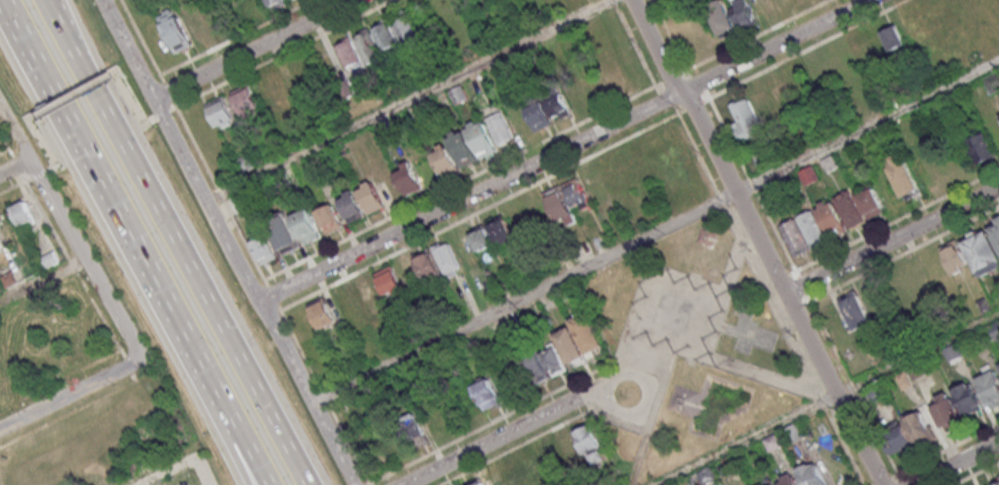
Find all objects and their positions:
building: (291, 0)
building: (499, 0)
building: (276, 3)
building: (743, 12)
road: (49, 14)
road: (53, 14)
building: (721, 17)
building: (405, 28)
building: (184, 30)
building: (386, 36)
building: (894, 38)
road: (744, 43)
building: (368, 45)
road: (252, 49)
road: (810, 49)
building: (349, 52)
building: (613, 75)
building: (992, 81)
building: (779, 91)
road: (72, 92)
road: (666, 97)
building: (246, 99)
road: (404, 99)
building: (761, 100)
building: (558, 105)
building: (742, 110)
building: (222, 112)
building: (539, 115)
road: (150, 117)
building: (499, 127)
building: (481, 138)
building: (462, 147)
building: (981, 148)
road: (4, 149)
road: (564, 151)
road: (12, 155)
building: (446, 161)
road: (14, 166)
road: (44, 169)
building: (809, 174)
building: (903, 174)
building: (408, 178)
building: (577, 193)
building: (370, 196)
building: (871, 203)
building: (351, 205)
building: (560, 205)
building: (850, 209)
building: (22, 211)
road: (115, 214)
building: (330, 218)
building: (832, 219)
building: (307, 225)
building: (813, 228)
road: (68, 229)
building: (501, 231)
road: (655, 231)
building: (284, 234)
building: (481, 237)
building: (796, 237)
road: (893, 238)
road: (761, 239)
building: (2, 244)
road: (225, 244)
building: (264, 249)
building: (982, 253)
building: (955, 256)
road: (180, 257)
building: (49, 259)
building: (447, 259)
road: (73, 268)
building: (428, 268)
road: (796, 269)
building: (390, 282)
building: (0, 288)
building: (369, 293)
road: (771, 295)
building: (856, 310)
building: (322, 312)
building: (994, 330)
building: (581, 339)
park: (691, 347)
building: (545, 363)
road: (60, 378)
building: (904, 379)
building: (990, 385)
road: (70, 393)
building: (486, 393)
road: (828, 398)
building: (967, 398)
building: (947, 409)
road: (67, 412)
building: (921, 427)
building: (417, 429)
road: (515, 429)
building: (794, 432)
building: (898, 438)
building: (774, 441)
building: (585, 445)
road: (239, 457)
road: (243, 457)
road: (956, 464)
road: (200, 471)
road: (977, 474)
building: (811, 475)
building: (789, 480)
road: (885, 481)
building: (477, 482)
building: (764, 484)
building: (997, 484)

